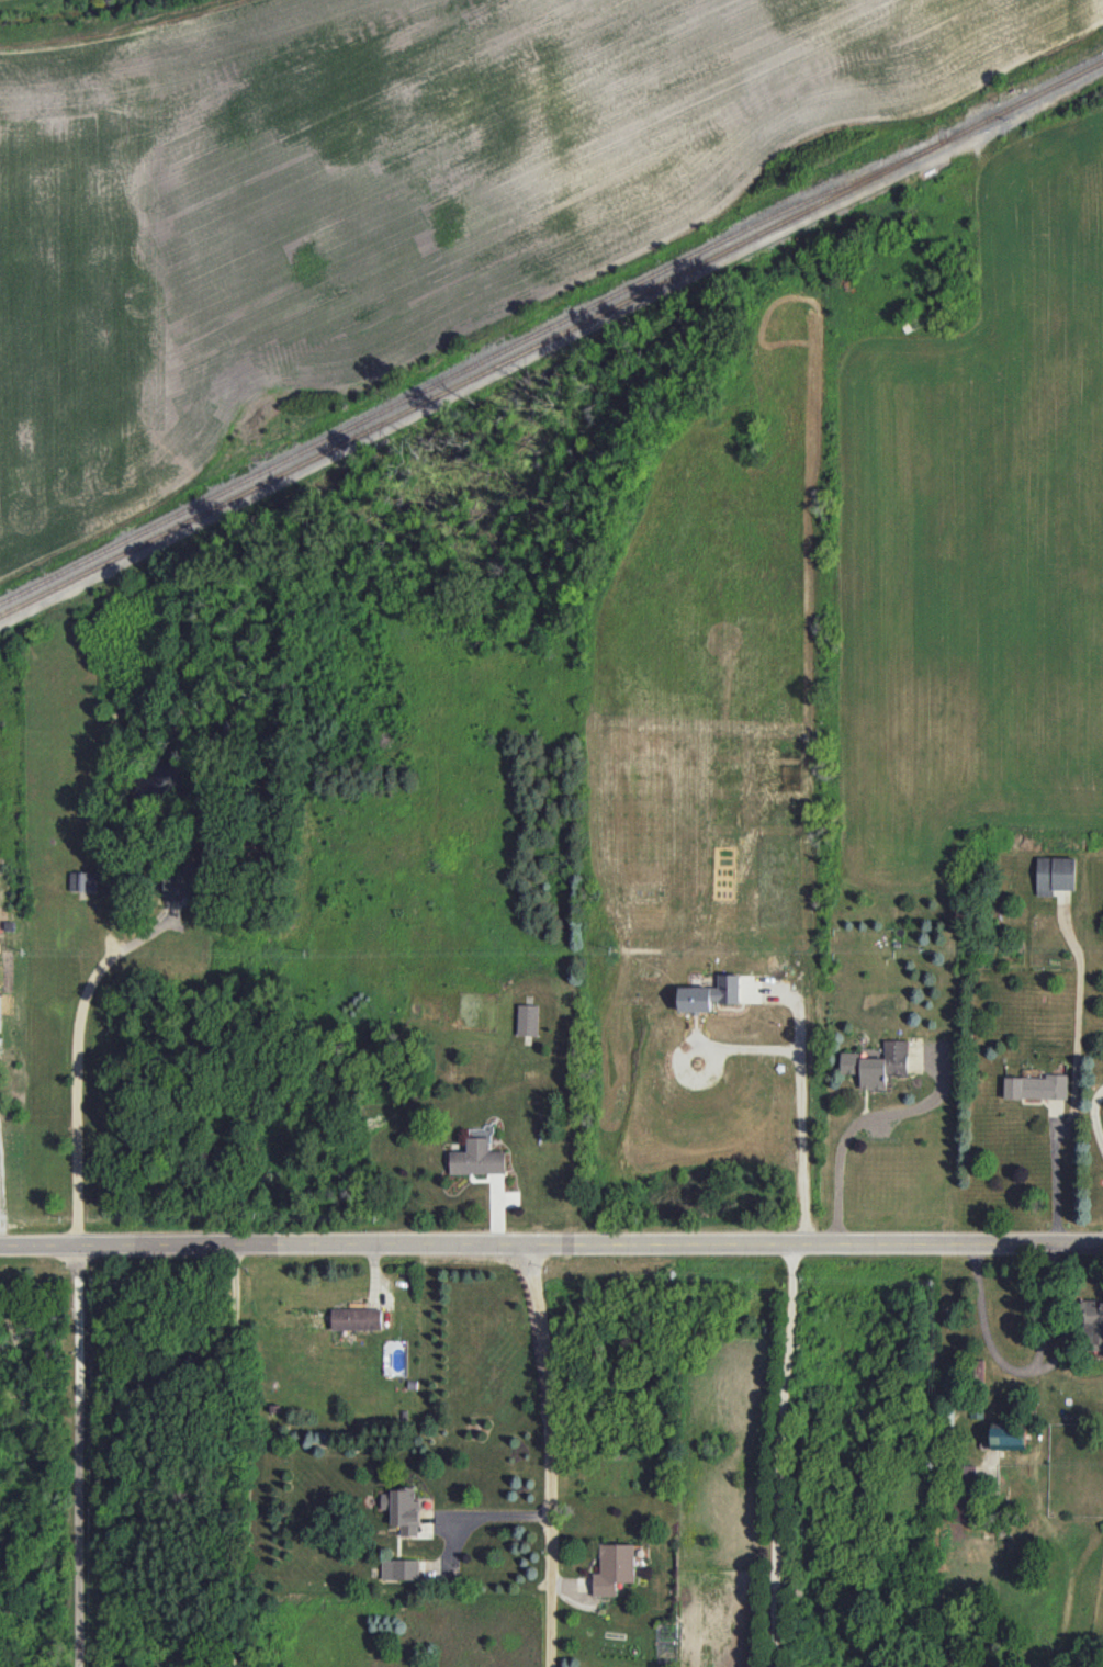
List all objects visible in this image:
railway: (679, 273)
railway: (425, 388)
railway: (128, 551)
building: (1054, 874)
building: (82, 880)
building: (184, 882)
building: (749, 988)
building: (709, 994)
building: (0, 1013)
building: (526, 1020)
road: (77, 1062)
building: (877, 1065)
building: (1036, 1086)
road: (1074, 1086)
road: (798, 1097)
road: (1093, 1116)
building: (475, 1158)
road: (838, 1165)
road: (2, 1220)
road: (551, 1246)
building: (354, 1319)
building: (1092, 1325)
road: (1013, 1367)
building: (1009, 1435)
road: (545, 1450)
road: (781, 1454)
road: (230, 1456)
road: (78, 1457)
building: (967, 1473)
building: (959, 1508)
building: (403, 1509)
road: (488, 1514)
road: (450, 1548)
building: (399, 1568)
building: (614, 1568)

